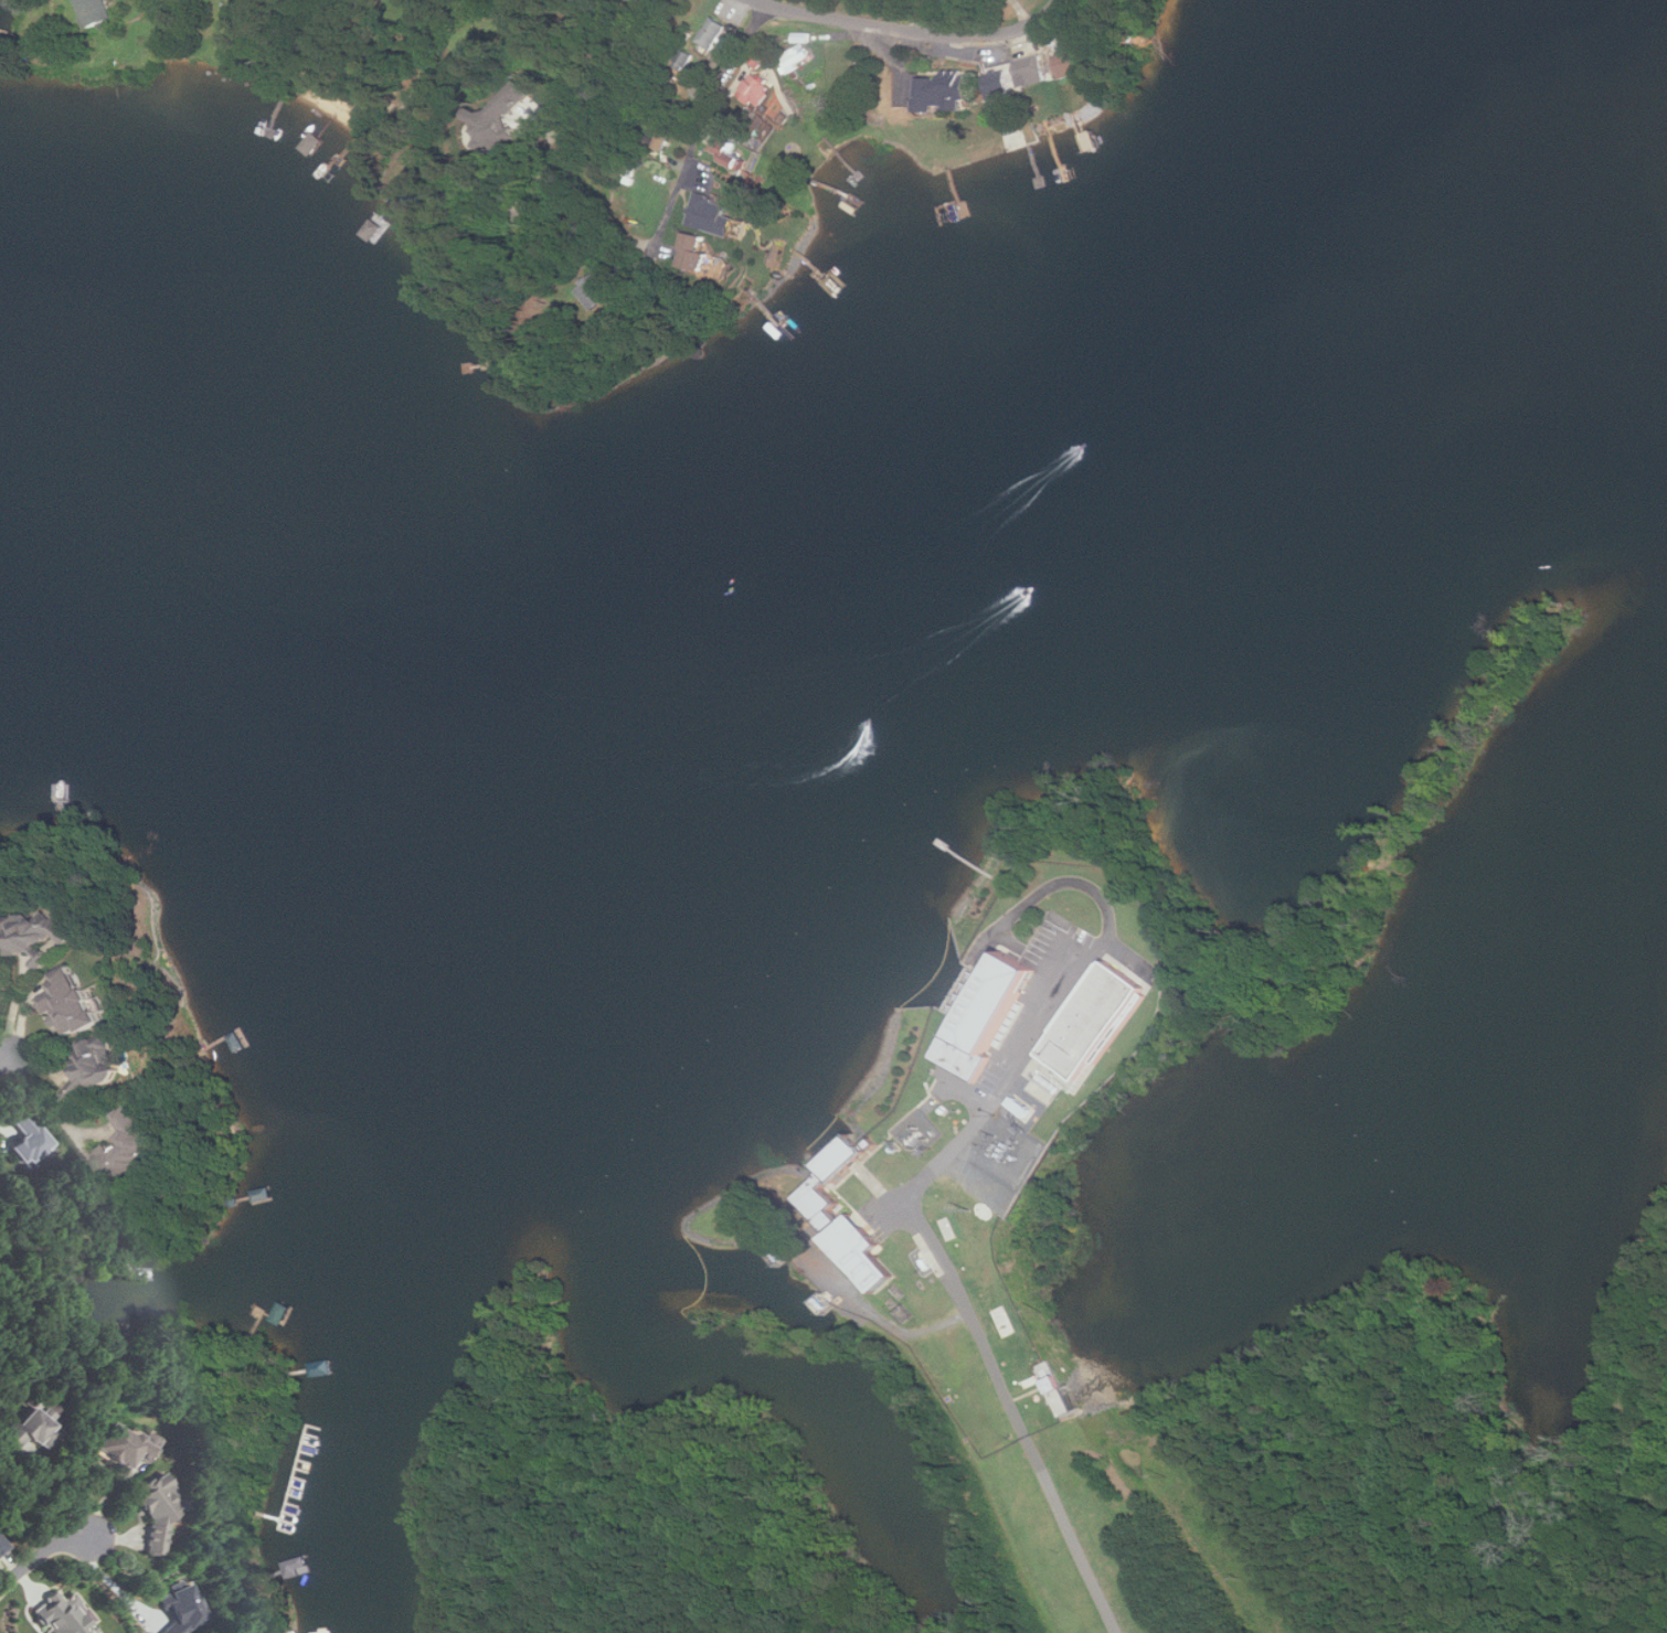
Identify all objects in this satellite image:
building: (95, 11)
road: (922, 15)
road: (911, 30)
building: (712, 32)
building: (553, 55)
building: (794, 56)
building: (1069, 63)
road: (591, 70)
building: (1032, 70)
building: (999, 83)
building: (757, 89)
building: (944, 89)
building: (500, 116)
road: (703, 120)
building: (657, 138)
building: (731, 150)
road: (583, 206)
building: (711, 214)
building: (694, 250)
building: (593, 292)
river: (1130, 413)
river: (299, 644)
building: (32, 933)
building: (0, 999)
building: (68, 1001)
building: (986, 1017)
building: (1093, 1021)
road: (7, 1058)
building: (93, 1067)
road: (992, 1103)
road: (51, 1111)
building: (29, 1136)
building: (127, 1145)
building: (842, 1159)
building: (848, 1238)
building: (31, 1427)
road: (1027, 1433)
building: (119, 1444)
building: (156, 1507)
building: (2, 1543)
road: (43, 1554)
road: (113, 1580)
building: (182, 1607)
building: (62, 1613)

